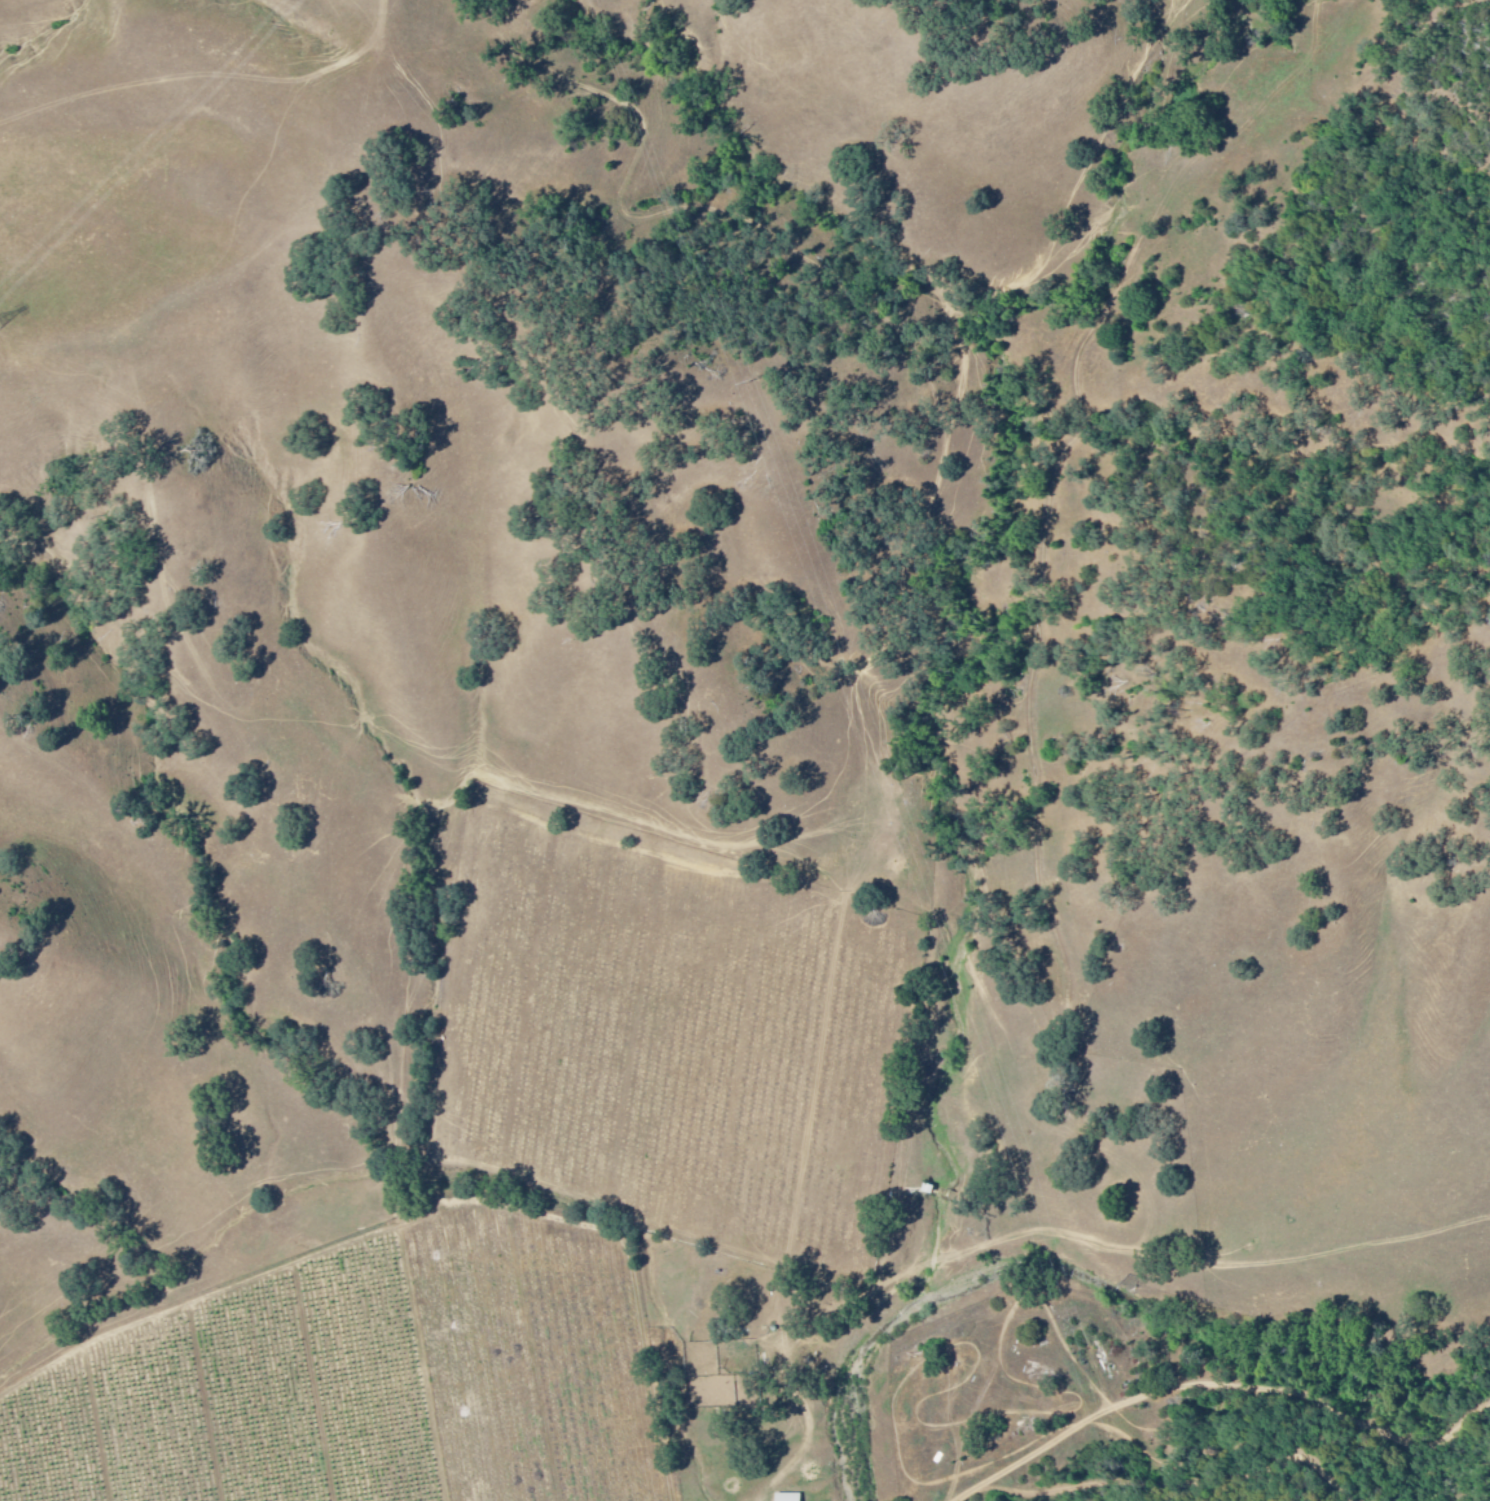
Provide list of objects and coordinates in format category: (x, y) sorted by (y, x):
road: (1092, 1423)
building: (788, 1497)

